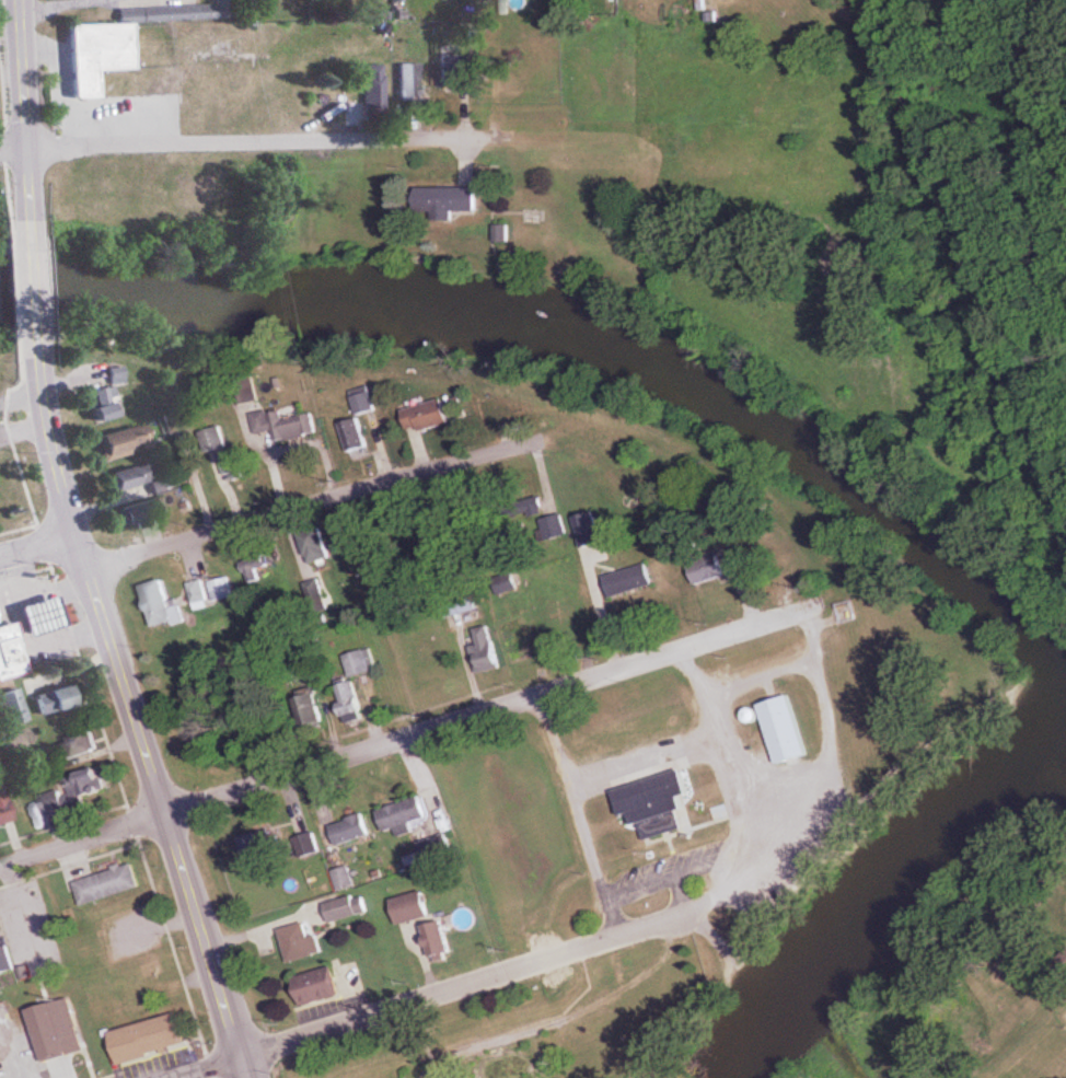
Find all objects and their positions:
road: (55, 2)
building: (125, 42)
building: (453, 67)
building: (406, 82)
building: (375, 93)
road: (23, 117)
road: (267, 141)
road: (12, 147)
building: (449, 202)
building: (502, 235)
road: (966, 274)
road: (34, 290)
river: (616, 345)
building: (117, 375)
building: (366, 402)
building: (106, 404)
building: (430, 417)
building: (176, 422)
building: (287, 427)
building: (358, 437)
building: (128, 440)
building: (217, 441)
building: (236, 464)
building: (141, 479)
road: (314, 501)
building: (141, 513)
road: (37, 544)
building: (317, 547)
building: (256, 570)
building: (709, 570)
building: (630, 581)
building: (212, 592)
building: (316, 595)
building: (158, 602)
building: (45, 615)
building: (12, 645)
road: (695, 645)
building: (486, 651)
building: (361, 663)
building: (58, 699)
building: (351, 704)
road: (132, 714)
building: (312, 714)
building: (787, 731)
building: (84, 744)
building: (74, 793)
building: (658, 803)
building: (5, 805)
road: (579, 815)
building: (404, 818)
building: (351, 831)
road: (82, 839)
building: (262, 847)
building: (344, 880)
building: (107, 884)
building: (348, 908)
building: (413, 908)
river: (901, 930)
building: (439, 940)
building: (300, 943)
building: (5, 961)
building: (320, 986)
road: (430, 996)
parking lot: (1063, 1010)
building: (57, 1030)
building: (150, 1039)
road: (206, 1066)

